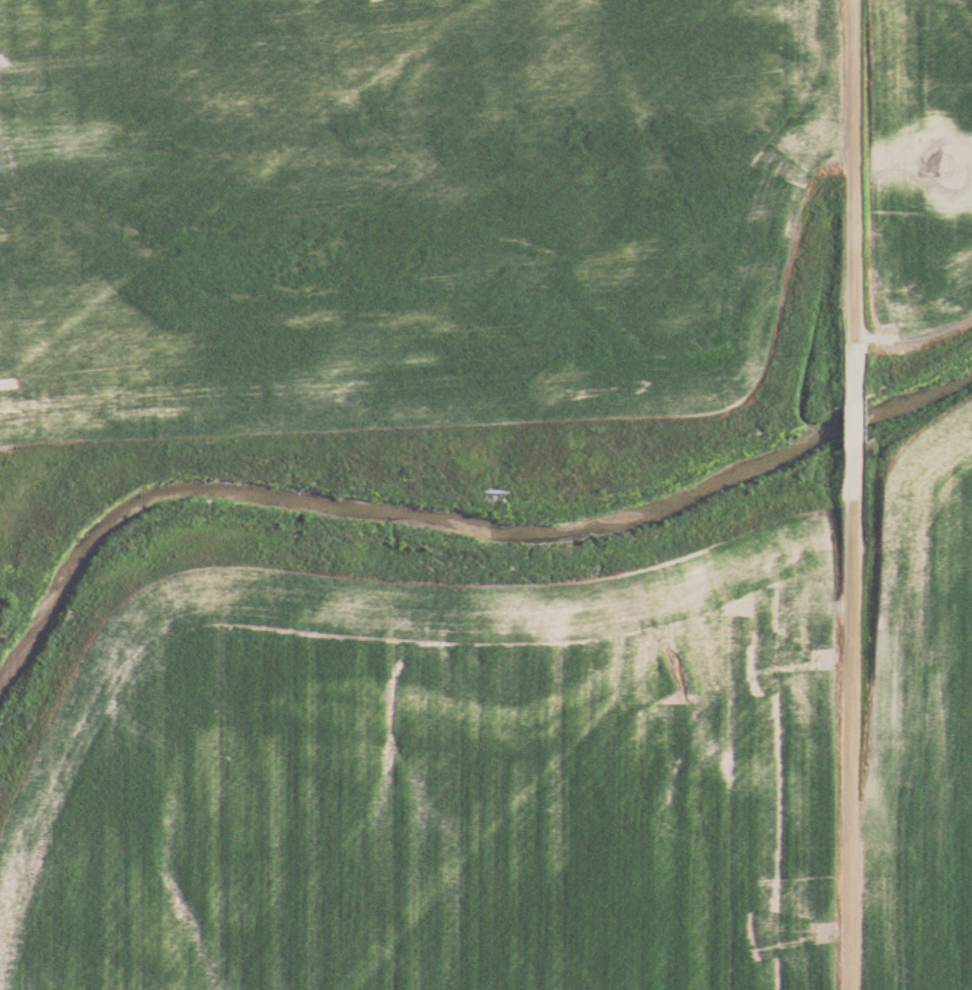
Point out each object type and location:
road: (855, 182)
road: (854, 414)
river: (459, 519)
road: (852, 726)

